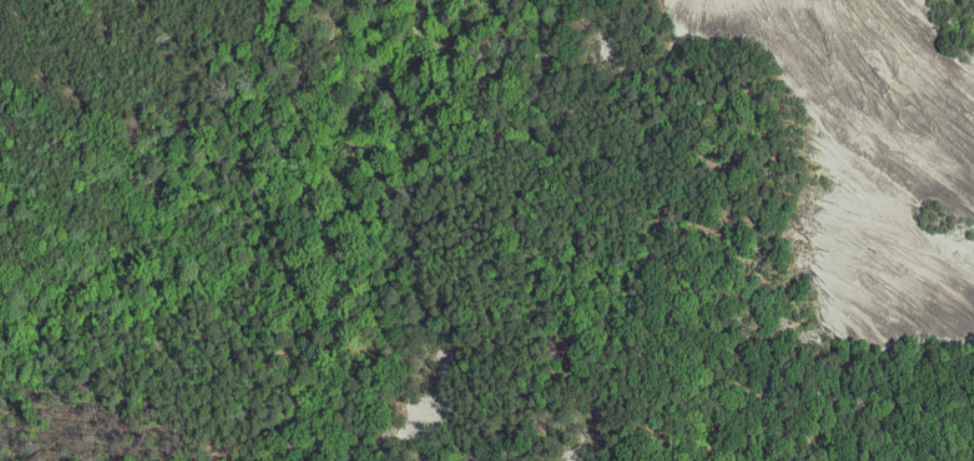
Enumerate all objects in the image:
road: (545, 47)
road: (630, 75)
road: (557, 282)

